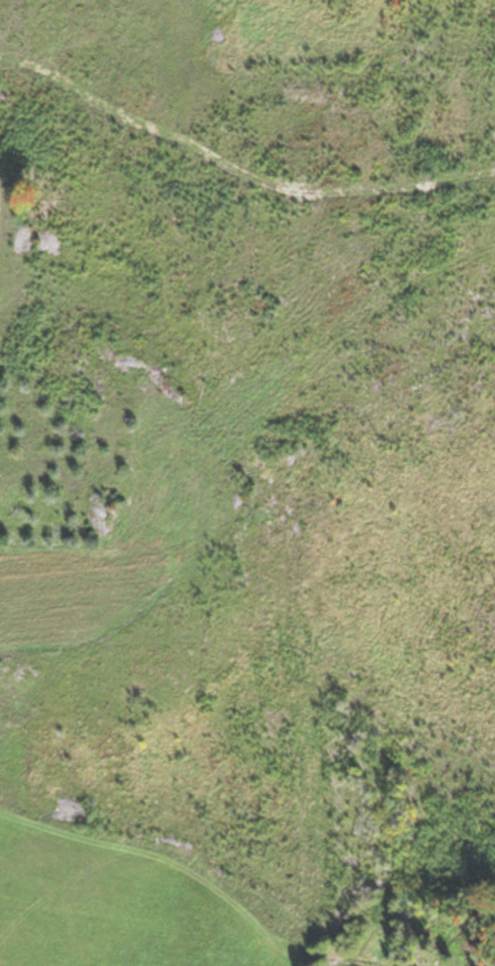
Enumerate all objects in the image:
road: (4, 220)

